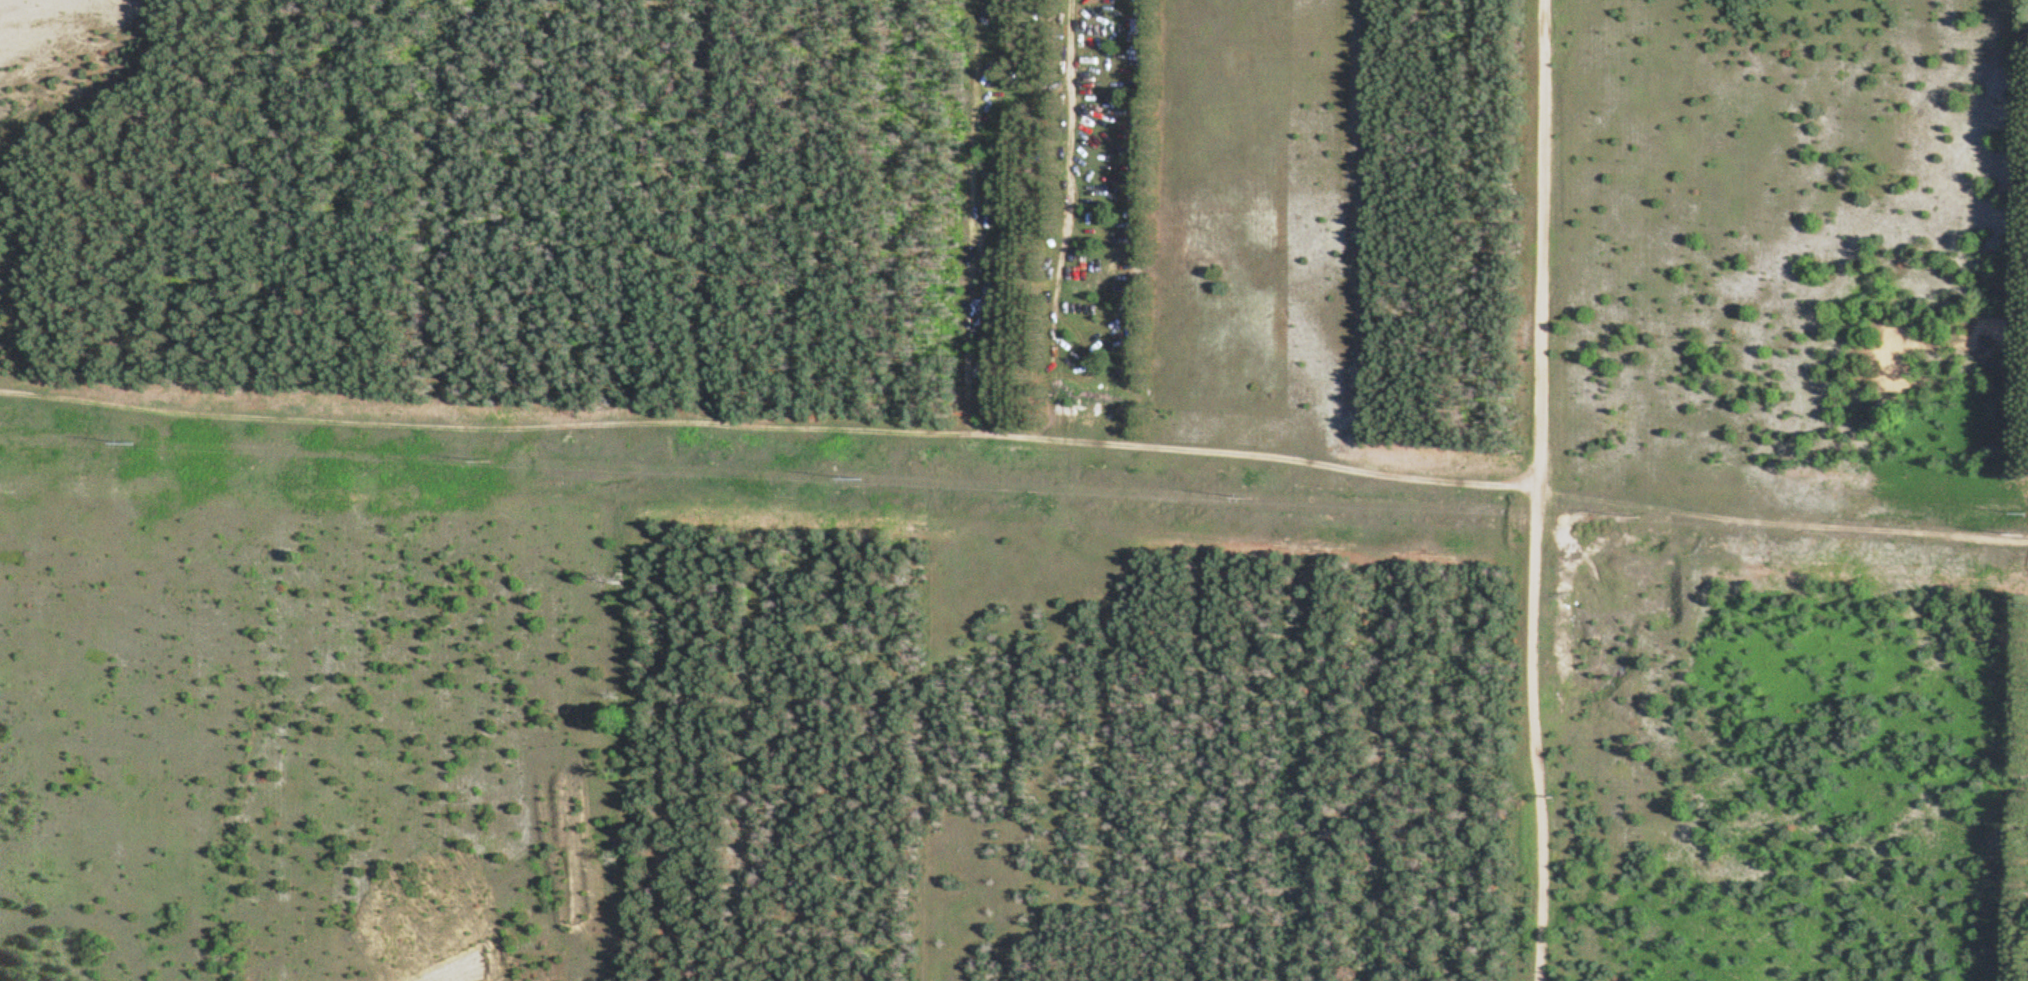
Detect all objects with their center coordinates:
road: (1067, 224)
road: (768, 426)
road: (1535, 490)
quarry: (556, 883)

